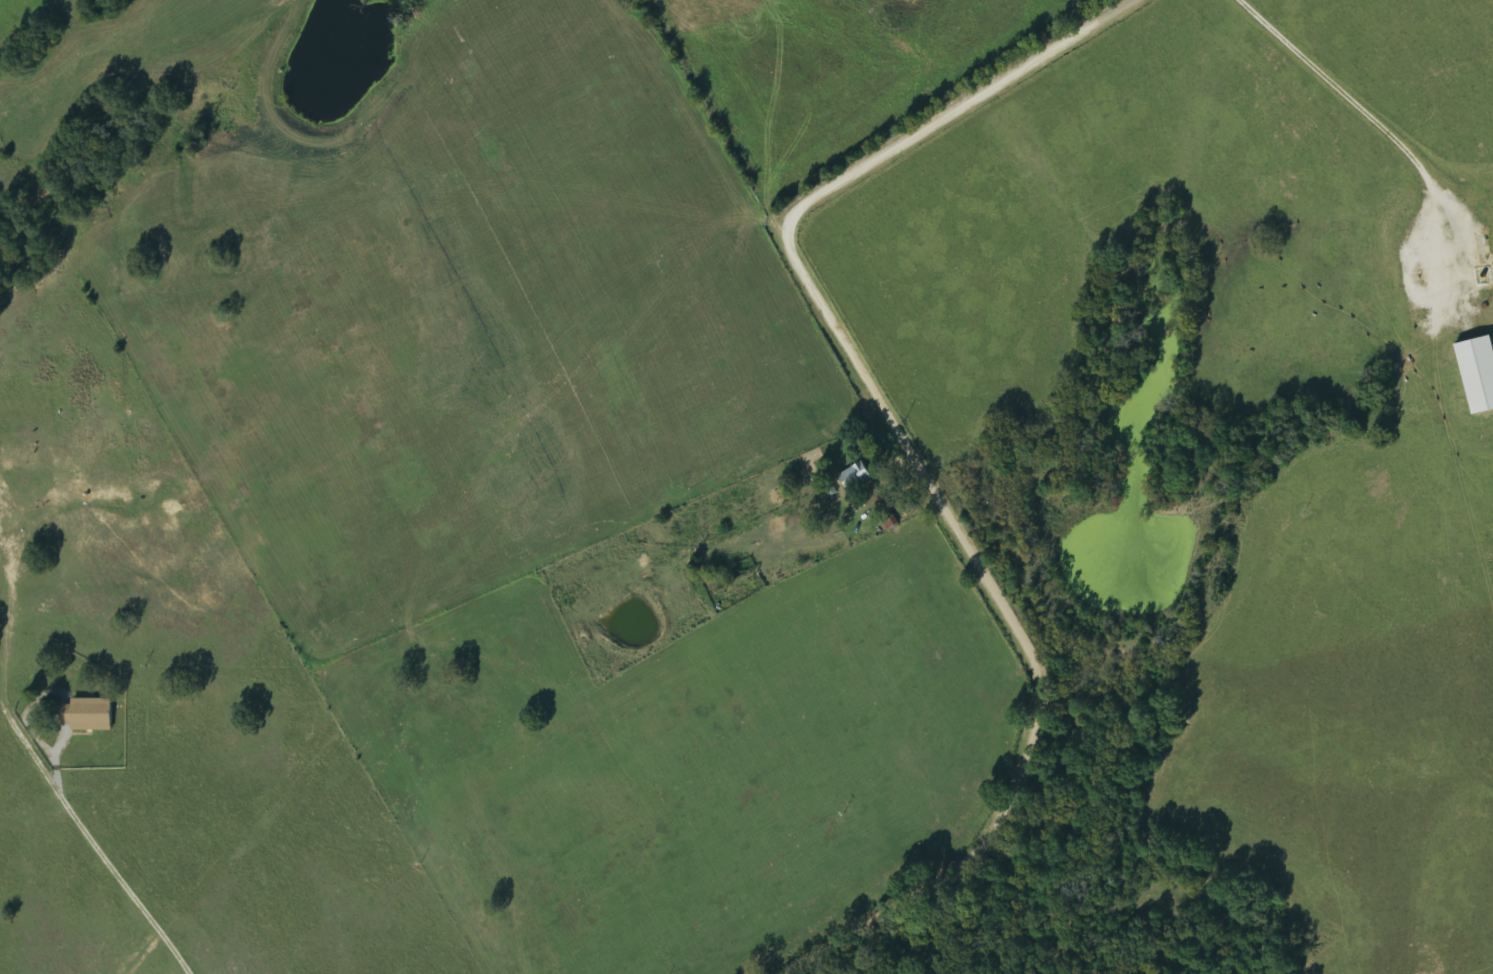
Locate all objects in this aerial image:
road: (908, 455)
building: (857, 477)
dam: (1099, 633)
building: (90, 714)

